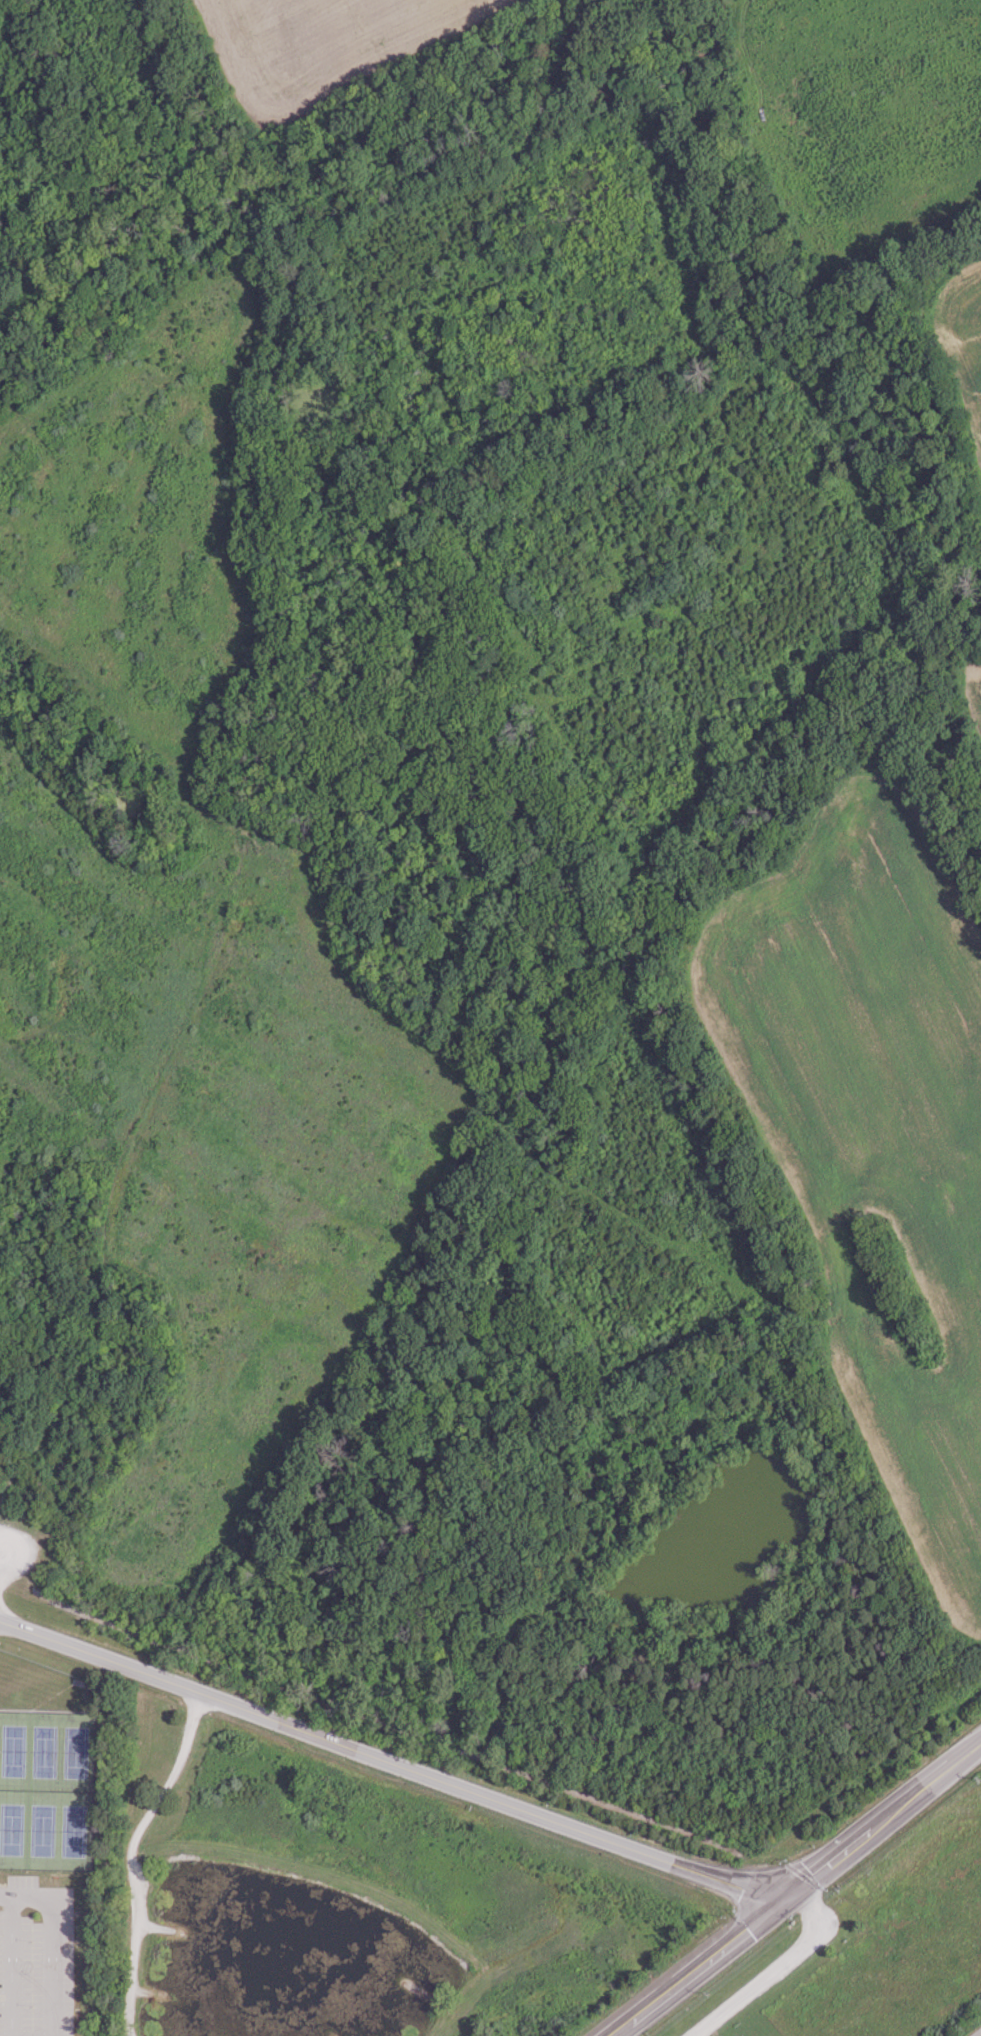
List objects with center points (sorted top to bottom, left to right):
road: (99, 1339)
parking lot: (17, 1551)
road: (2, 1558)
road: (421, 1736)
road: (966, 1752)
road: (390, 1762)
park: (46, 1789)
road: (910, 1796)
road: (131, 1856)
road: (825, 1862)
dam: (313, 1881)
road: (4, 1897)
traffic signals: (782, 1898)
road: (797, 1900)
road: (49, 1947)
road: (706, 1961)
road: (9, 1967)
road: (763, 1977)
parking lot: (27, 2021)
road: (620, 2029)
road: (975, 2032)

